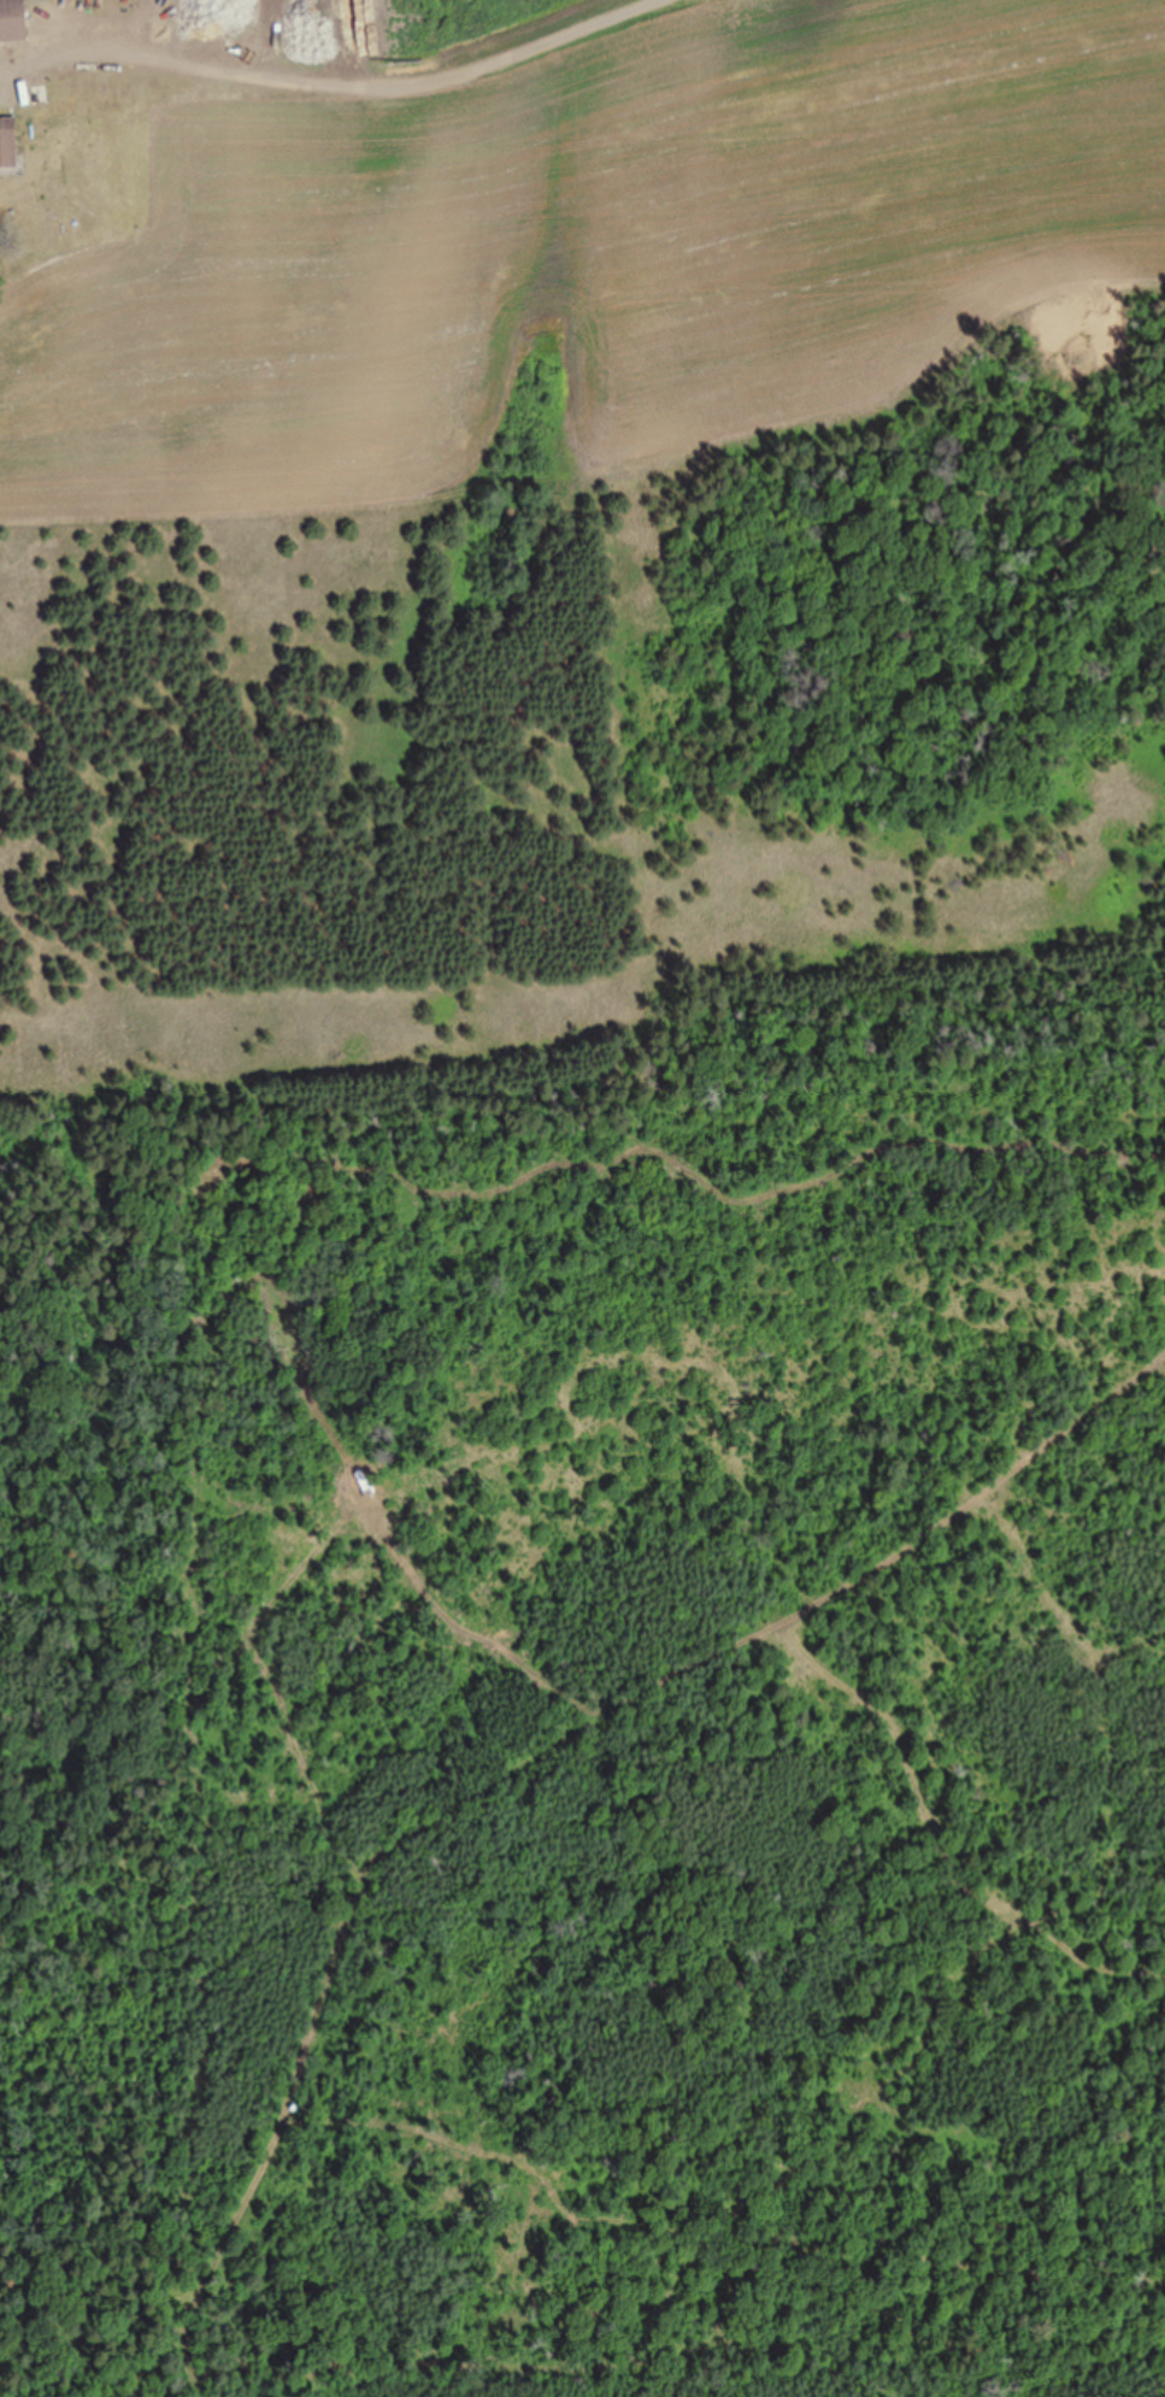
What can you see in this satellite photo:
building: (14, 22)
road: (355, 86)
building: (8, 142)
road: (651, 1388)
road: (312, 2170)

